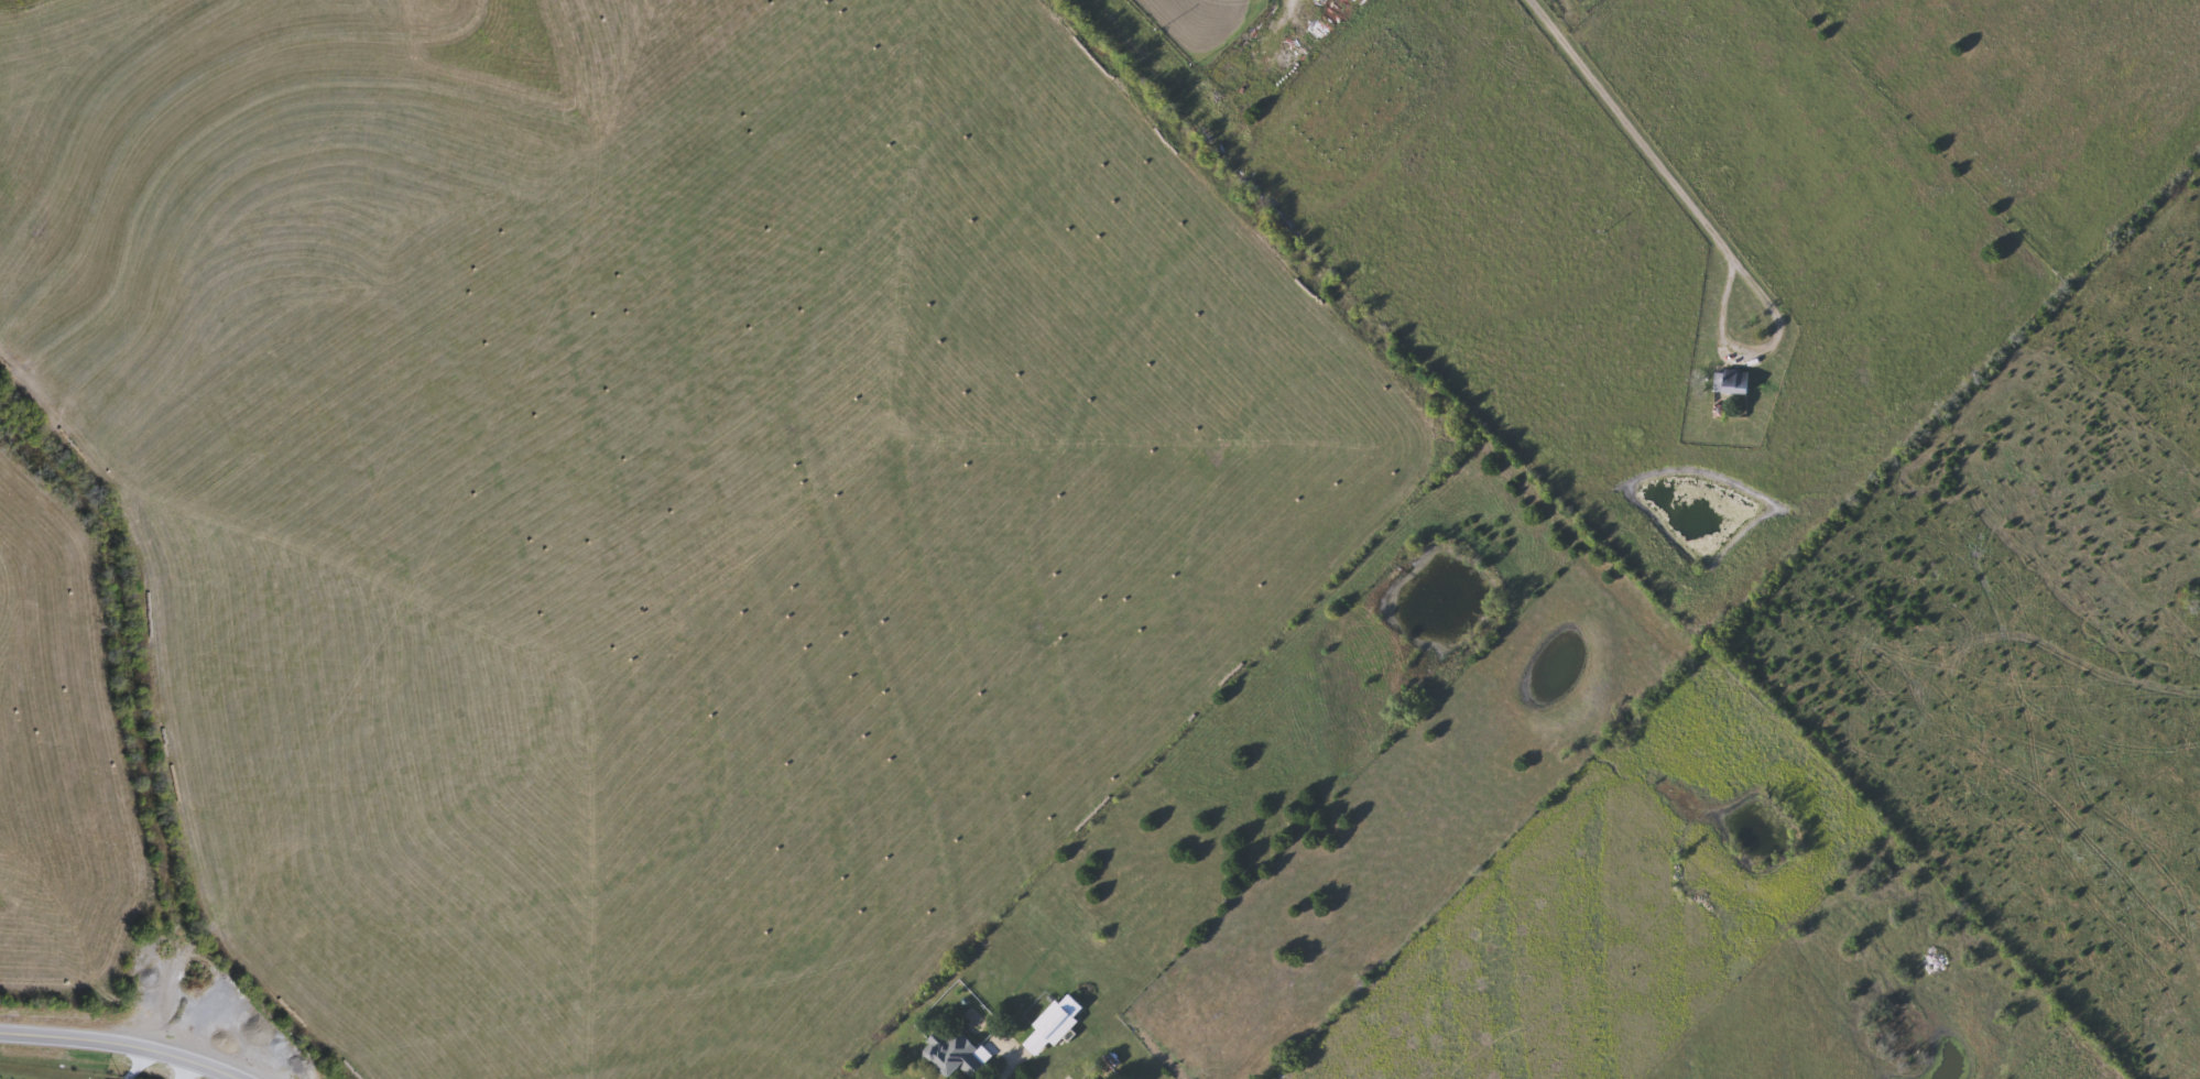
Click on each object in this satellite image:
road: (1624, 133)
road: (1779, 348)
building: (1733, 383)
road: (134, 712)
building: (1057, 1025)
road: (116, 1046)
building: (955, 1055)
road: (135, 1066)
road: (183, 1070)

